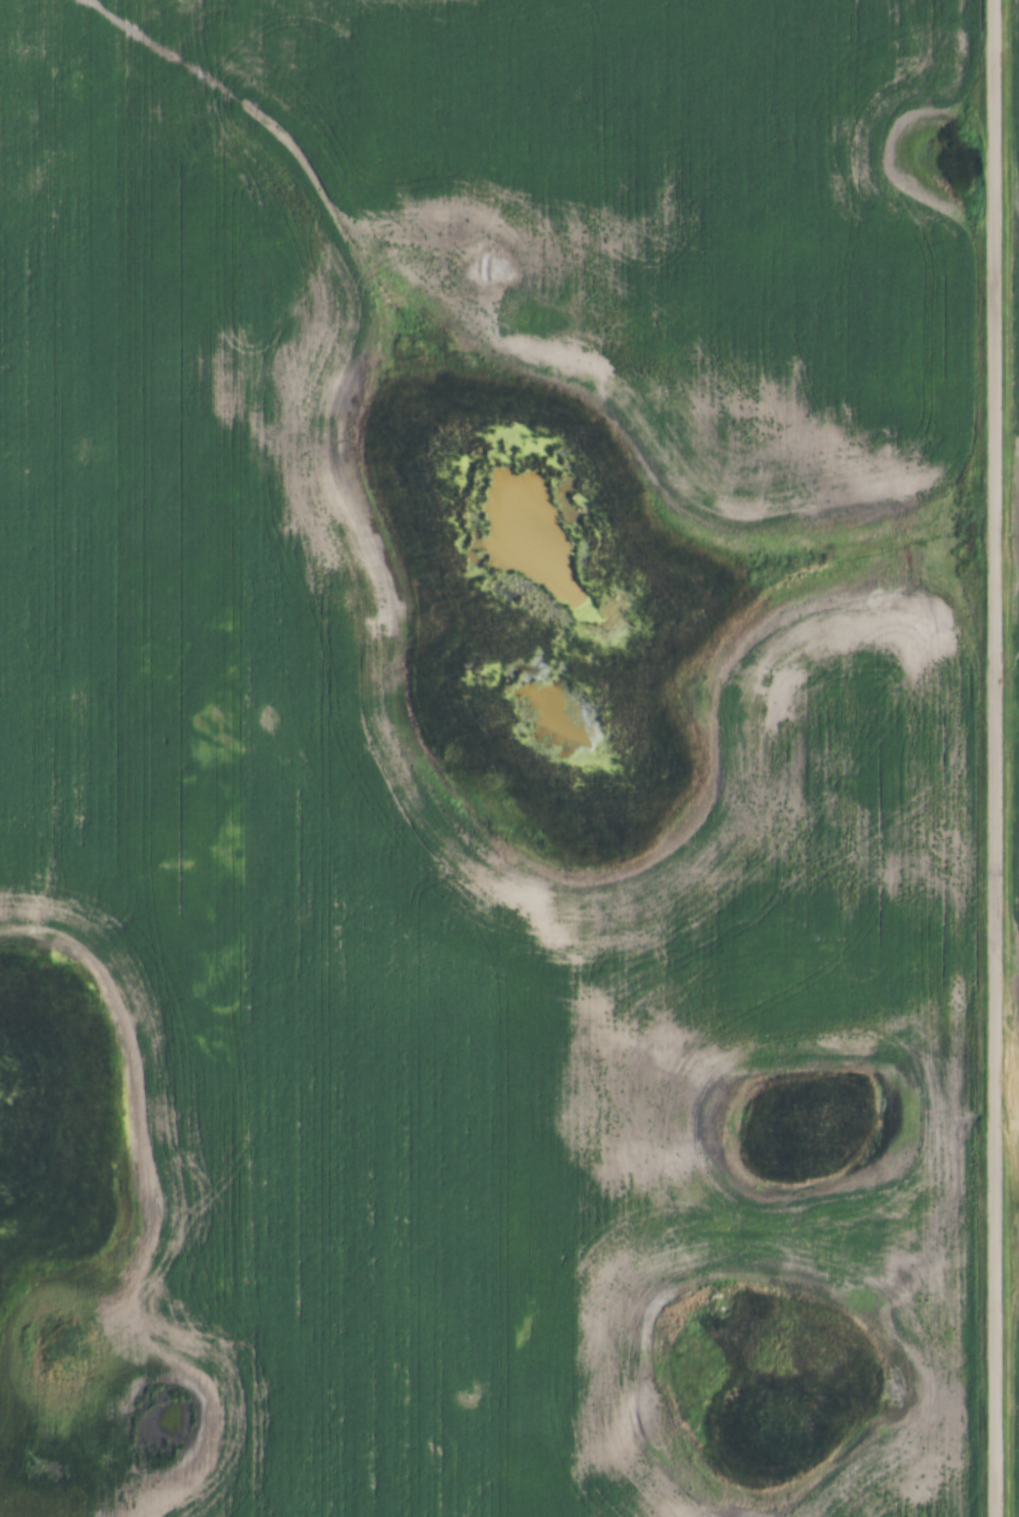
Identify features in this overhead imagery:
road: (995, 758)

